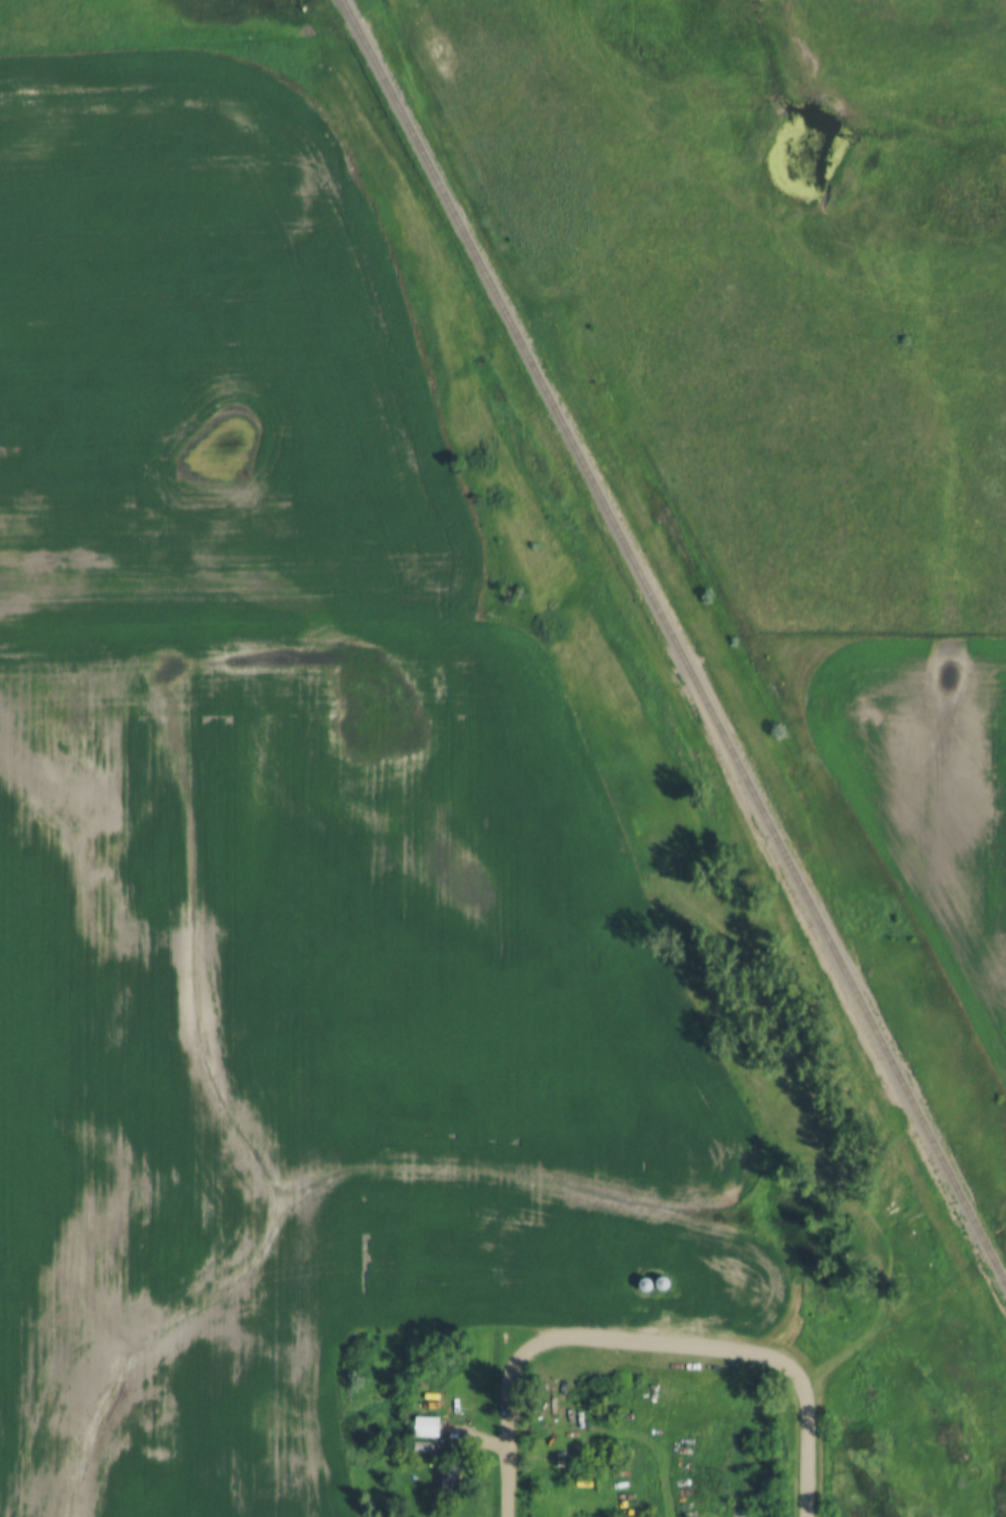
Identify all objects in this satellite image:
railway: (672, 643)
railway: (832, 1008)
road: (647, 1343)
building: (429, 1427)
building: (448, 1475)

